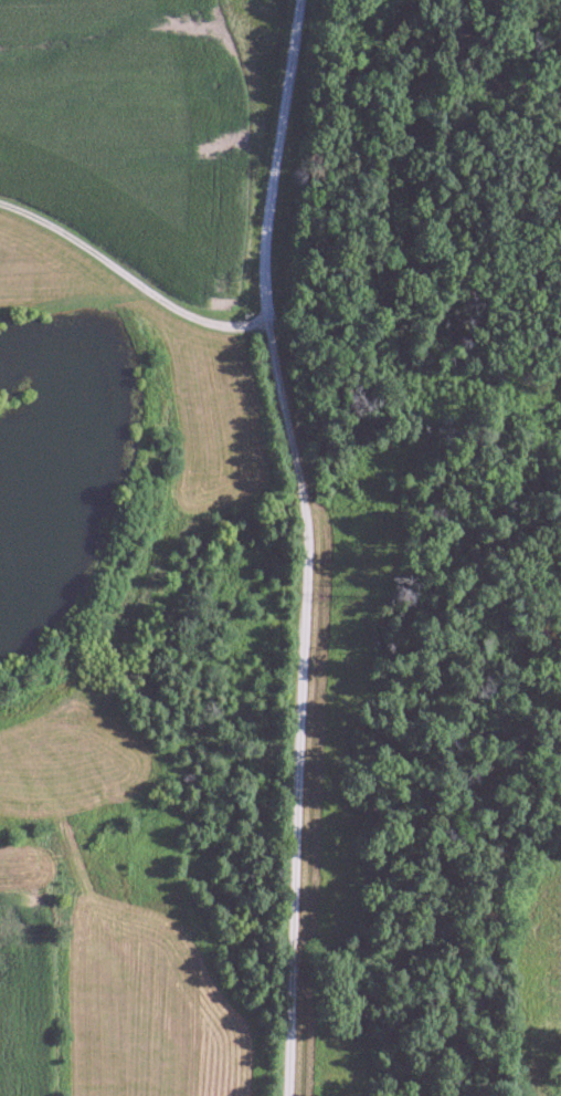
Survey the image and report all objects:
road: (133, 270)
road: (309, 544)

